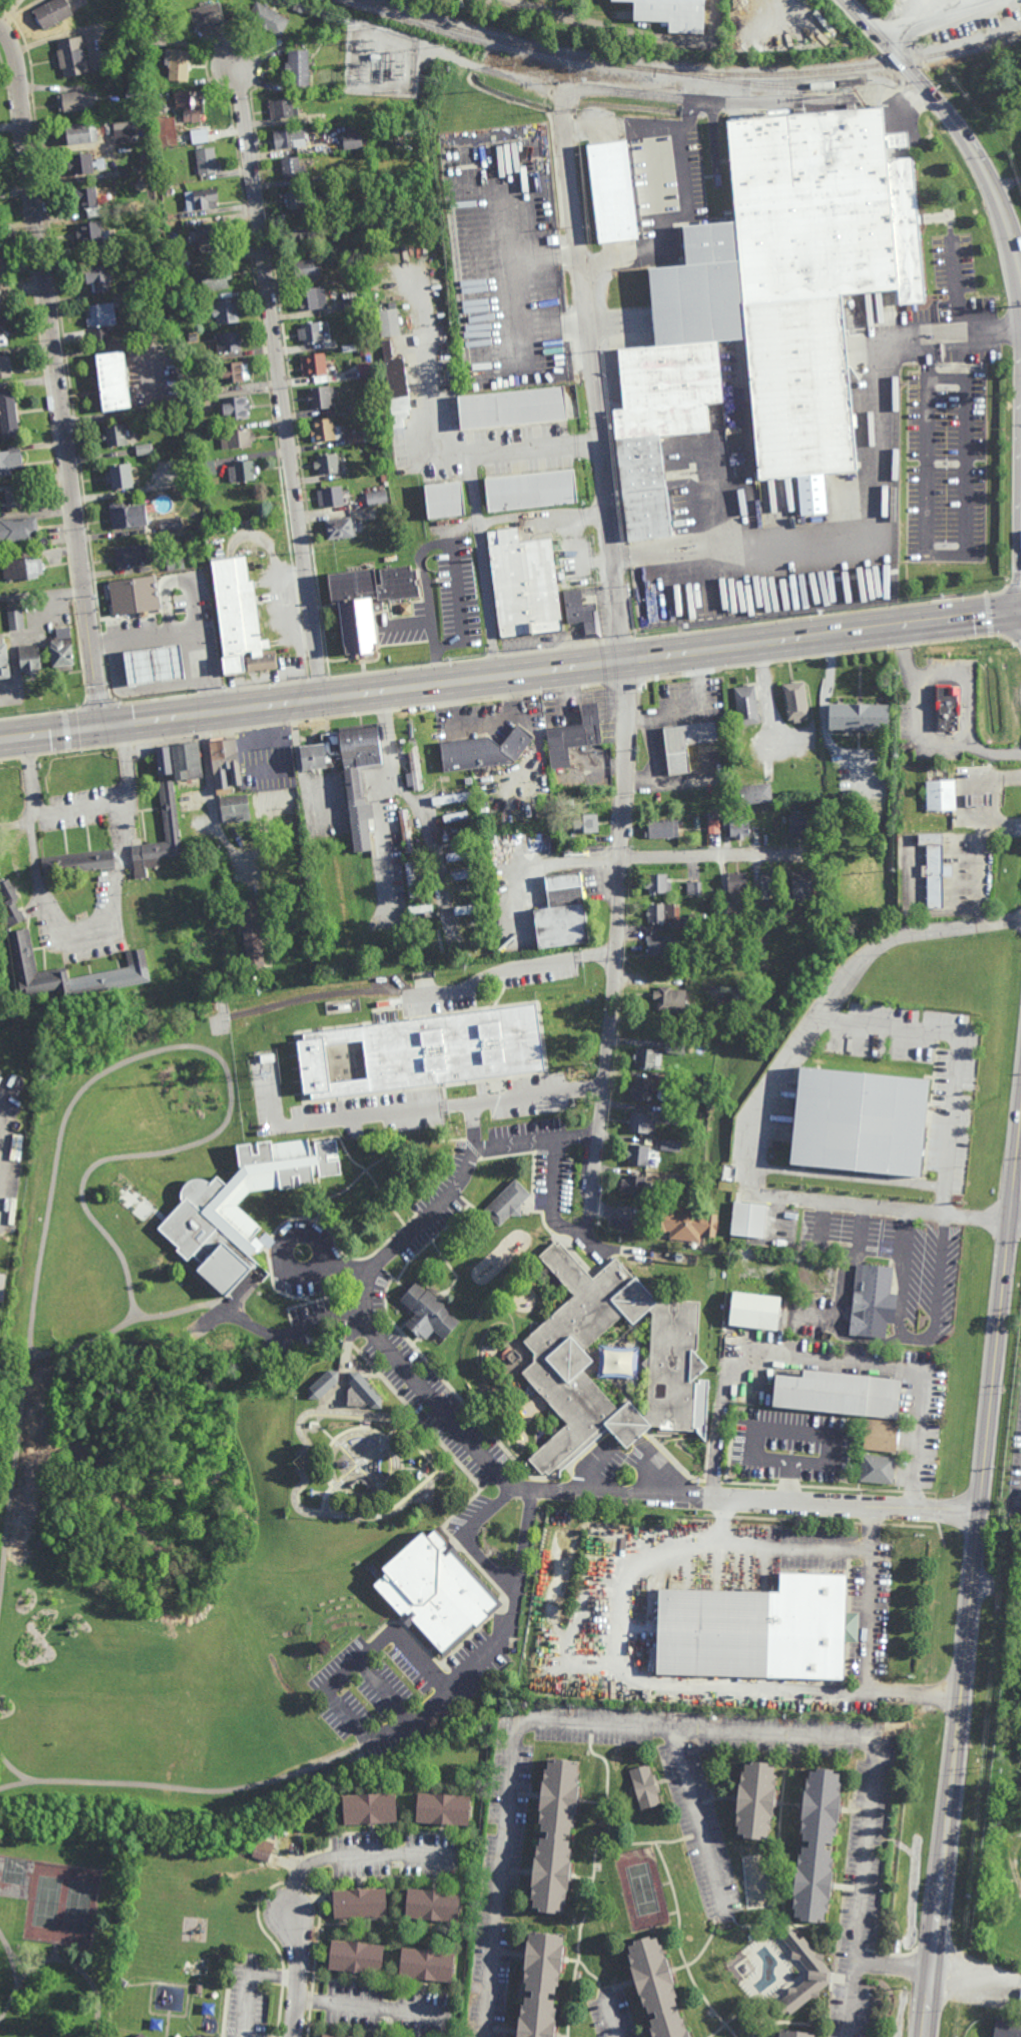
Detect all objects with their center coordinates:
building: (464, 5)
road: (939, 8)
quarry: (930, 10)
building: (52, 14)
building: (671, 14)
building: (205, 16)
building: (267, 19)
road: (937, 20)
road: (628, 34)
building: (158, 38)
railway: (953, 52)
building: (72, 57)
power substation: (382, 61)
building: (178, 65)
railway: (618, 65)
building: (297, 67)
building: (339, 73)
road: (550, 88)
building: (136, 93)
building: (75, 101)
road: (797, 103)
building: (193, 105)
building: (282, 108)
building: (327, 116)
road: (952, 121)
building: (166, 131)
building: (80, 132)
building: (125, 135)
building: (199, 135)
building: (289, 138)
building: (352, 140)
building: (206, 161)
building: (81, 163)
building: (100, 163)
building: (291, 168)
building: (127, 173)
building: (614, 190)
building: (200, 199)
building: (88, 200)
building: (298, 200)
road: (679, 214)
building: (305, 231)
building: (90, 232)
building: (208, 235)
building: (180, 264)
building: (0, 265)
building: (306, 269)
building: (98, 278)
building: (212, 278)
building: (356, 284)
building: (138, 287)
building: (310, 299)
building: (1, 300)
building: (191, 303)
building: (351, 305)
building: (773, 308)
building: (225, 313)
road: (958, 315)
building: (102, 320)
building: (389, 322)
building: (310, 333)
building: (3, 334)
building: (191, 337)
building: (227, 342)
road: (925, 356)
building: (314, 365)
building: (5, 366)
building: (179, 369)
road: (58, 373)
building: (233, 373)
road: (594, 378)
building: (112, 380)
road: (280, 382)
building: (396, 385)
building: (320, 397)
building: (194, 402)
building: (519, 406)
building: (235, 411)
building: (9, 414)
building: (325, 431)
building: (115, 436)
building: (355, 437)
building: (236, 439)
road: (434, 444)
building: (143, 450)
building: (9, 462)
building: (327, 464)
building: (207, 468)
building: (241, 471)
building: (119, 476)
building: (532, 490)
building: (15, 495)
building: (329, 497)
building: (375, 498)
building: (445, 499)
building: (366, 514)
building: (125, 515)
building: (169, 523)
road: (880, 528)
building: (339, 529)
building: (17, 530)
road: (967, 553)
building: (134, 556)
road: (454, 562)
building: (176, 563)
road: (482, 566)
building: (22, 568)
building: (524, 584)
road: (165, 594)
building: (134, 595)
power tower: (937, 596)
building: (366, 601)
road: (192, 603)
building: (405, 609)
power tower: (822, 610)
building: (16, 619)
building: (585, 620)
building: (237, 622)
road: (408, 625)
road: (185, 630)
power tower: (636, 635)
power tower: (543, 648)
building: (61, 656)
building: (29, 660)
power tower: (441, 660)
building: (3, 662)
building: (154, 665)
power tower: (330, 674)
road: (510, 678)
road: (967, 681)
power tower: (225, 687)
road: (139, 690)
power tower: (121, 698)
building: (795, 702)
building: (746, 705)
building: (946, 706)
power tower: (50, 708)
road: (824, 708)
building: (857, 718)
road: (483, 721)
traffic signals: (102, 726)
road: (919, 732)
building: (574, 737)
building: (686, 745)
building: (484, 751)
building: (267, 756)
building: (164, 761)
building: (186, 761)
building: (224, 764)
road: (298, 766)
building: (413, 767)
building: (349, 772)
building: (563, 779)
building: (447, 782)
road: (997, 792)
building: (752, 794)
building: (939, 796)
road: (382, 798)
building: (458, 798)
road: (211, 800)
building: (976, 801)
building: (568, 803)
road: (82, 807)
building: (233, 809)
building: (169, 810)
building: (459, 816)
building: (586, 824)
building: (737, 824)
road: (425, 826)
building: (713, 826)
building: (798, 826)
building: (662, 828)
building: (406, 830)
building: (460, 834)
road: (718, 854)
building: (461, 855)
road: (594, 860)
road: (979, 860)
building: (78, 861)
building: (288, 868)
building: (933, 868)
building: (464, 871)
building: (412, 880)
building: (658, 883)
building: (736, 883)
building: (770, 883)
building: (801, 884)
building: (694, 887)
building: (470, 889)
building: (411, 901)
building: (11, 904)
building: (746, 904)
building: (419, 907)
building: (473, 908)
building: (563, 911)
building: (661, 911)
building: (725, 915)
building: (788, 915)
building: (761, 917)
building: (412, 919)
building: (696, 919)
building: (477, 926)
road: (83, 931)
building: (251, 935)
building: (435, 942)
building: (659, 943)
road: (615, 947)
building: (24, 959)
road: (507, 967)
building: (740, 994)
building: (669, 998)
building: (674, 1047)
building: (690, 1048)
building: (342, 1051)
road: (958, 1051)
building: (648, 1057)
building: (0, 1070)
building: (685, 1080)
building: (17, 1081)
road: (94, 1081)
building: (641, 1089)
road: (537, 1096)
road: (754, 1108)
building: (675, 1114)
road: (368, 1118)
building: (693, 1119)
building: (641, 1122)
building: (856, 1122)
road: (1, 1133)
road: (474, 1139)
building: (669, 1144)
building: (637, 1154)
building: (687, 1180)
building: (635, 1185)
road: (552, 1198)
building: (508, 1203)
building: (208, 1216)
road: (1017, 1217)
building: (747, 1219)
building: (684, 1222)
road: (588, 1239)
road: (837, 1249)
road: (335, 1264)
road: (373, 1268)
building: (873, 1303)
road: (841, 1306)
building: (752, 1311)
building: (427, 1314)
road: (123, 1327)
building: (133, 1328)
building: (143, 1329)
road: (290, 1333)
road: (914, 1336)
building: (562, 1360)
road: (892, 1366)
building: (321, 1385)
building: (364, 1391)
building: (837, 1395)
road: (786, 1428)
building: (881, 1438)
road: (630, 1440)
road: (363, 1466)
road: (359, 1469)
building: (876, 1470)
road: (790, 1485)
road: (526, 1489)
building: (426, 1496)
road: (357, 1499)
road: (757, 1504)
road: (395, 1511)
road: (469, 1536)
road: (782, 1550)
road: (974, 1590)
building: (435, 1591)
building: (755, 1630)
road: (494, 1642)
road: (870, 1645)
road: (406, 1648)
road: (373, 1673)
road: (644, 1682)
parking lot: (399, 1685)
road: (349, 1716)
road: (533, 1723)
road: (13, 1769)
building: (643, 1786)
road: (183, 1788)
road: (872, 1792)
road: (524, 1794)
building: (752, 1797)
road: (715, 1799)
road: (594, 1801)
road: (778, 1803)
road: (791, 1804)
building: (368, 1806)
building: (442, 1806)
road: (854, 1812)
building: (555, 1832)
road: (779, 1832)
parking lot: (703, 1837)
road: (651, 1843)
building: (815, 1843)
building: (263, 1849)
road: (356, 1857)
road: (664, 1866)
road: (517, 1871)
road: (594, 1878)
road: (582, 1879)
road: (787, 1882)
park: (642, 1888)
road: (847, 1888)
park: (47, 1901)
building: (358, 1902)
building: (432, 1904)
park: (77, 1906)
road: (742, 1927)
park: (60, 1931)
road: (704, 1949)
road: (57, 1952)
road: (508, 1955)
building: (223, 1956)
building: (354, 1956)
road: (12, 1962)
road: (21, 1963)
building: (425, 1963)
road: (687, 1965)
building: (814, 1965)
road: (894, 1967)
road: (76, 1969)
road: (590, 1974)
road: (296, 1977)
road: (976, 1980)
building: (121, 1981)
road: (842, 1981)
road: (248, 1983)
building: (540, 1984)
building: (197, 1988)
road: (617, 1988)
building: (653, 1988)
building: (214, 1994)
building: (1020, 1995)
road: (10, 2006)
road: (374, 2008)
building: (1019, 2014)
parking lot: (612, 2015)
road: (612, 2018)
road: (763, 2019)
road: (732, 2020)
road: (501, 2029)
building: (1007, 2029)
building: (792, 2034)
building: (139, 2035)
building: (176, 2035)
building: (194, 2035)
building: (198, 2035)
building: (328, 2036)

